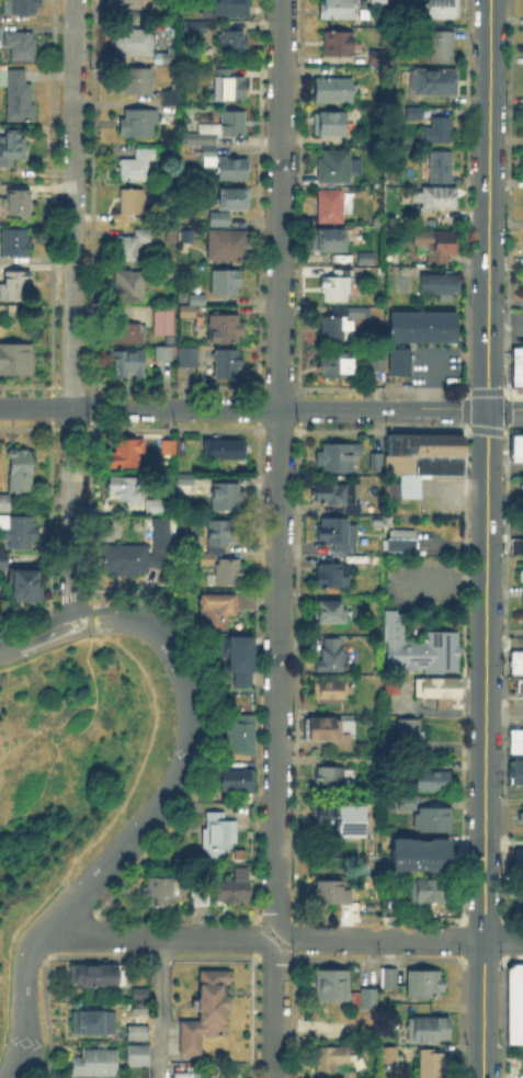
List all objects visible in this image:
building: (379, 2)
building: (126, 3)
building: (20, 7)
building: (227, 7)
building: (442, 9)
building: (337, 10)
building: (0, 19)
building: (190, 25)
building: (0, 32)
building: (232, 42)
building: (135, 43)
building: (22, 46)
building: (338, 46)
building: (443, 48)
building: (378, 58)
building: (170, 59)
building: (137, 80)
building: (433, 83)
building: (229, 86)
building: (334, 91)
building: (171, 95)
building: (18, 97)
building: (411, 111)
building: (138, 123)
building: (329, 124)
building: (219, 129)
building: (437, 132)
building: (12, 150)
building: (208, 157)
building: (137, 167)
building: (334, 167)
building: (441, 169)
building: (232, 170)
building: (234, 197)
building: (437, 198)
building: (18, 203)
road: (72, 204)
building: (330, 207)
building: (130, 209)
building: (219, 219)
building: (328, 240)
building: (16, 243)
building: (132, 246)
building: (439, 246)
building: (229, 247)
building: (366, 259)
building: (168, 274)
building: (226, 284)
building: (15, 286)
building: (133, 286)
building: (339, 286)
building: (440, 286)
building: (197, 300)
building: (187, 314)
building: (163, 321)
building: (420, 325)
building: (341, 326)
building: (227, 328)
building: (132, 334)
building: (164, 354)
building: (14, 356)
building: (189, 358)
building: (397, 360)
building: (377, 363)
building: (129, 364)
building: (227, 364)
building: (338, 365)
building: (518, 370)
traffic signals: (487, 408)
road: (504, 408)
road: (243, 409)
building: (398, 443)
building: (436, 443)
building: (167, 449)
building: (180, 449)
building: (518, 449)
building: (225, 452)
building: (126, 453)
building: (338, 456)
building: (374, 461)
building: (397, 463)
building: (436, 464)
road: (276, 468)
building: (20, 472)
building: (185, 484)
building: (125, 488)
building: (522, 491)
building: (338, 496)
building: (227, 499)
building: (5, 503)
building: (151, 503)
building: (159, 508)
road: (69, 515)
building: (334, 531)
building: (18, 532)
road: (486, 538)
building: (219, 541)
building: (399, 542)
building: (518, 548)
building: (137, 553)
building: (3, 563)
building: (225, 575)
building: (331, 575)
building: (522, 575)
building: (25, 583)
building: (247, 604)
building: (329, 610)
building: (216, 612)
building: (521, 612)
road: (36, 637)
building: (416, 646)
building: (331, 658)
building: (239, 659)
building: (515, 660)
road: (95, 681)
building: (393, 685)
building: (521, 688)
building: (331, 691)
building: (441, 691)
building: (331, 730)
building: (411, 734)
building: (240, 737)
building: (514, 740)
park: (73, 754)
road: (52, 767)
park: (62, 767)
building: (519, 774)
road: (29, 781)
building: (238, 781)
building: (336, 781)
building: (432, 783)
building: (408, 804)
building: (332, 818)
building: (433, 820)
building: (521, 820)
road: (145, 824)
building: (220, 835)
road: (94, 841)
building: (417, 853)
building: (518, 860)
building: (427, 889)
building: (232, 890)
building: (520, 890)
building: (159, 892)
building: (332, 893)
building: (197, 896)
road: (163, 937)
road: (399, 938)
building: (98, 976)
building: (389, 981)
building: (332, 986)
building: (424, 986)
building: (139, 995)
building: (365, 996)
building: (516, 1006)
road: (162, 1007)
road: (274, 1008)
building: (207, 1013)
building: (91, 1023)
building: (429, 1030)
building: (139, 1033)
building: (387, 1048)
building: (138, 1056)
building: (331, 1059)
building: (522, 1059)
building: (96, 1064)
building: (433, 1065)
building: (184, 1076)
building: (349, 1076)

